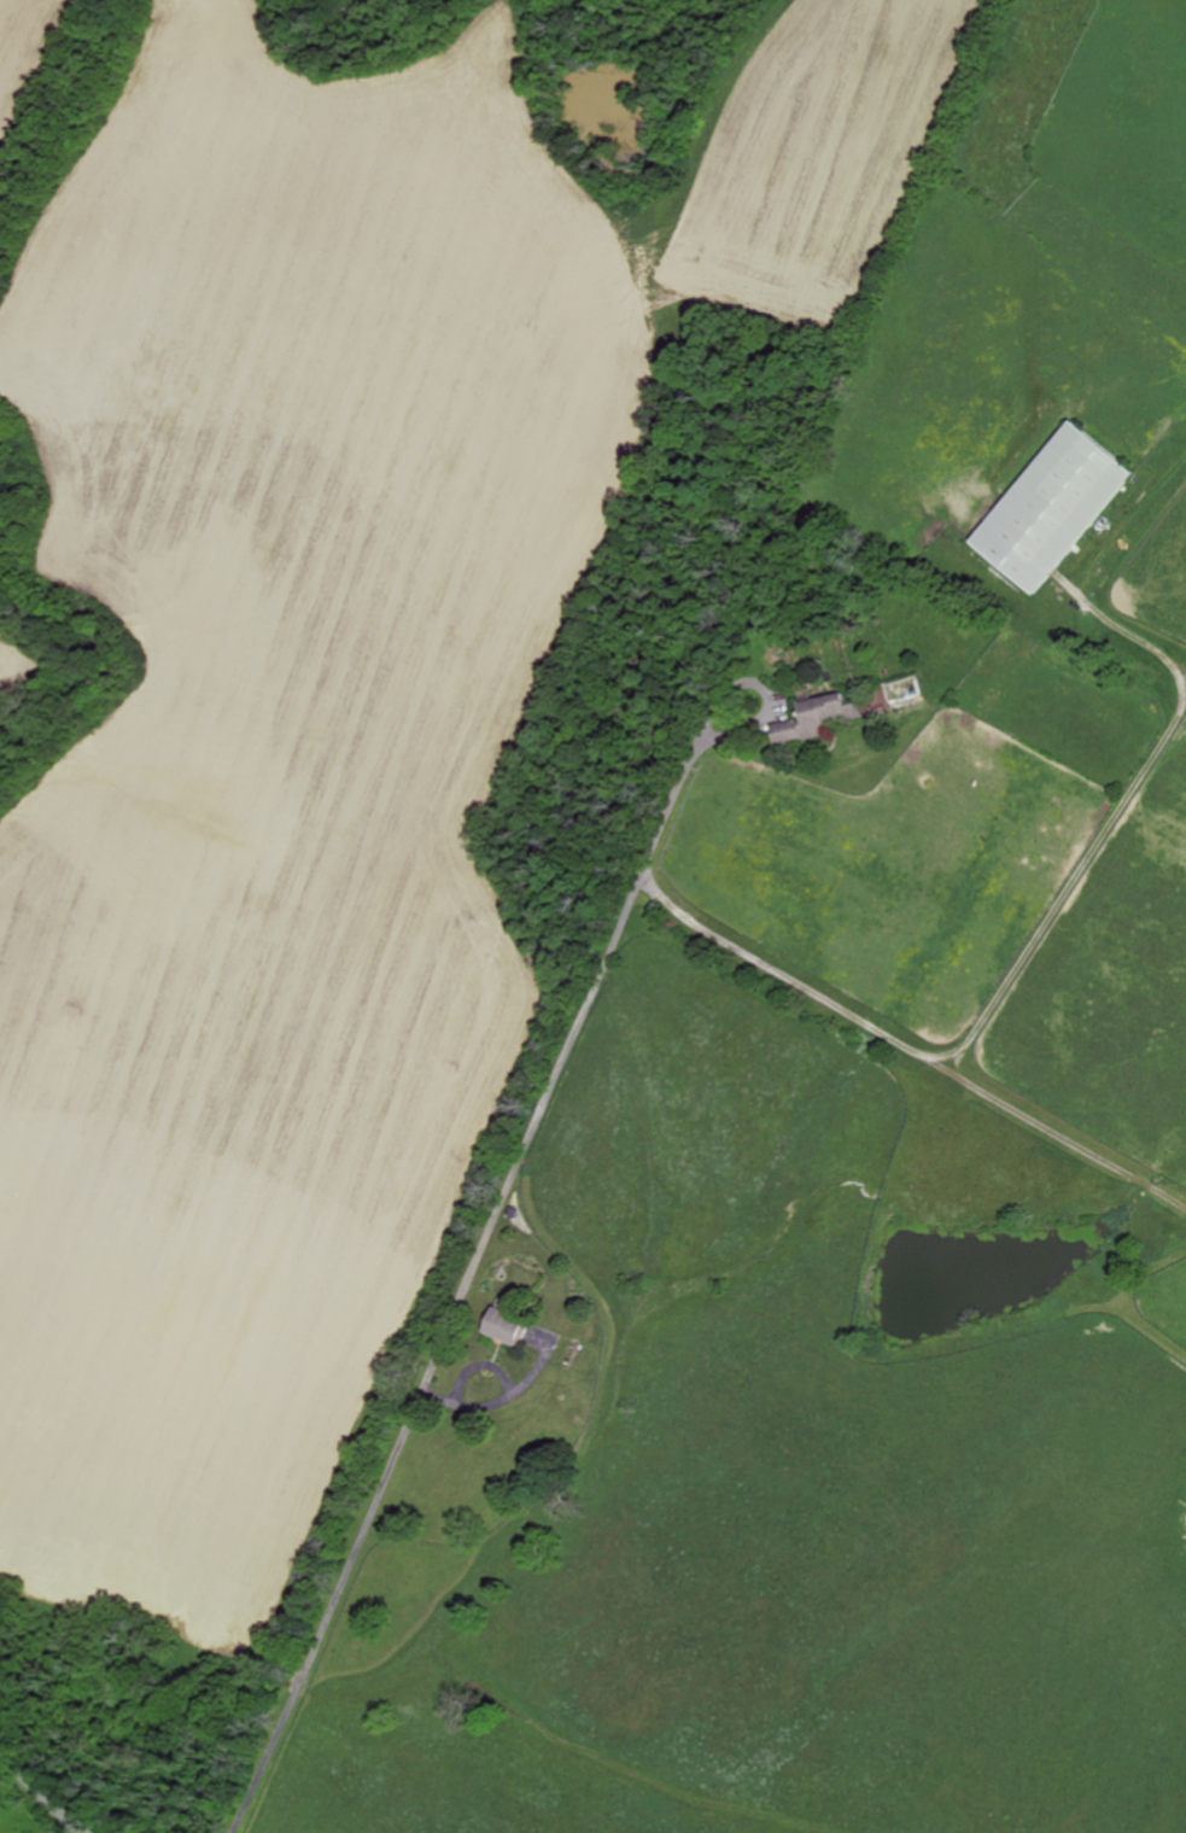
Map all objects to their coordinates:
building: (1057, 509)
road: (1145, 641)
building: (819, 714)
road: (707, 732)
road: (1067, 889)
road: (560, 1072)
building: (515, 1210)
building: (512, 1327)
road: (510, 1391)
road: (42, 1792)

